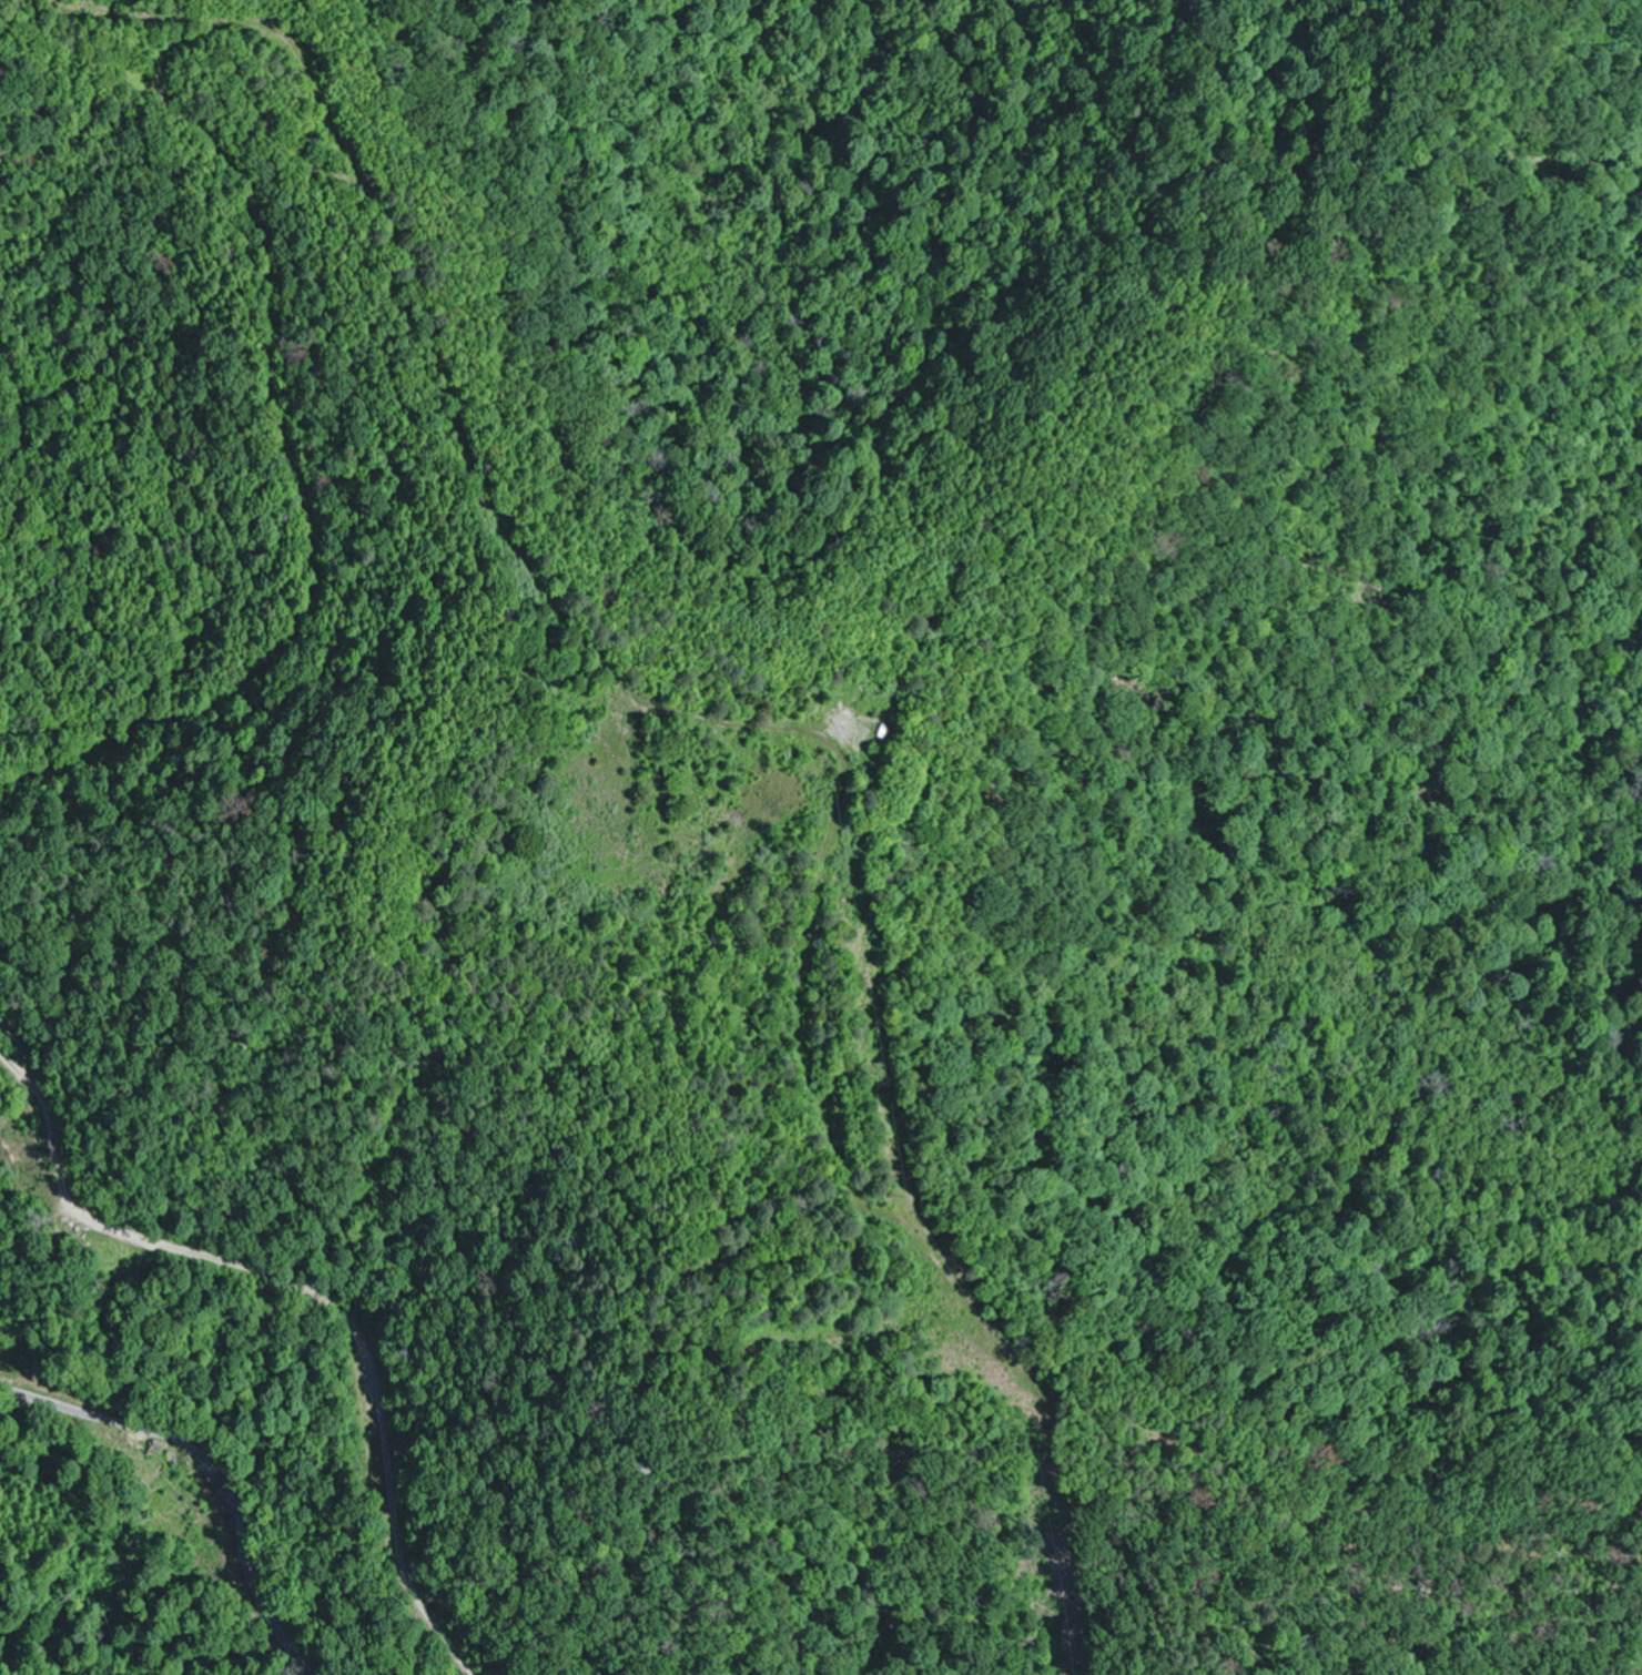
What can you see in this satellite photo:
road: (212, 1468)

